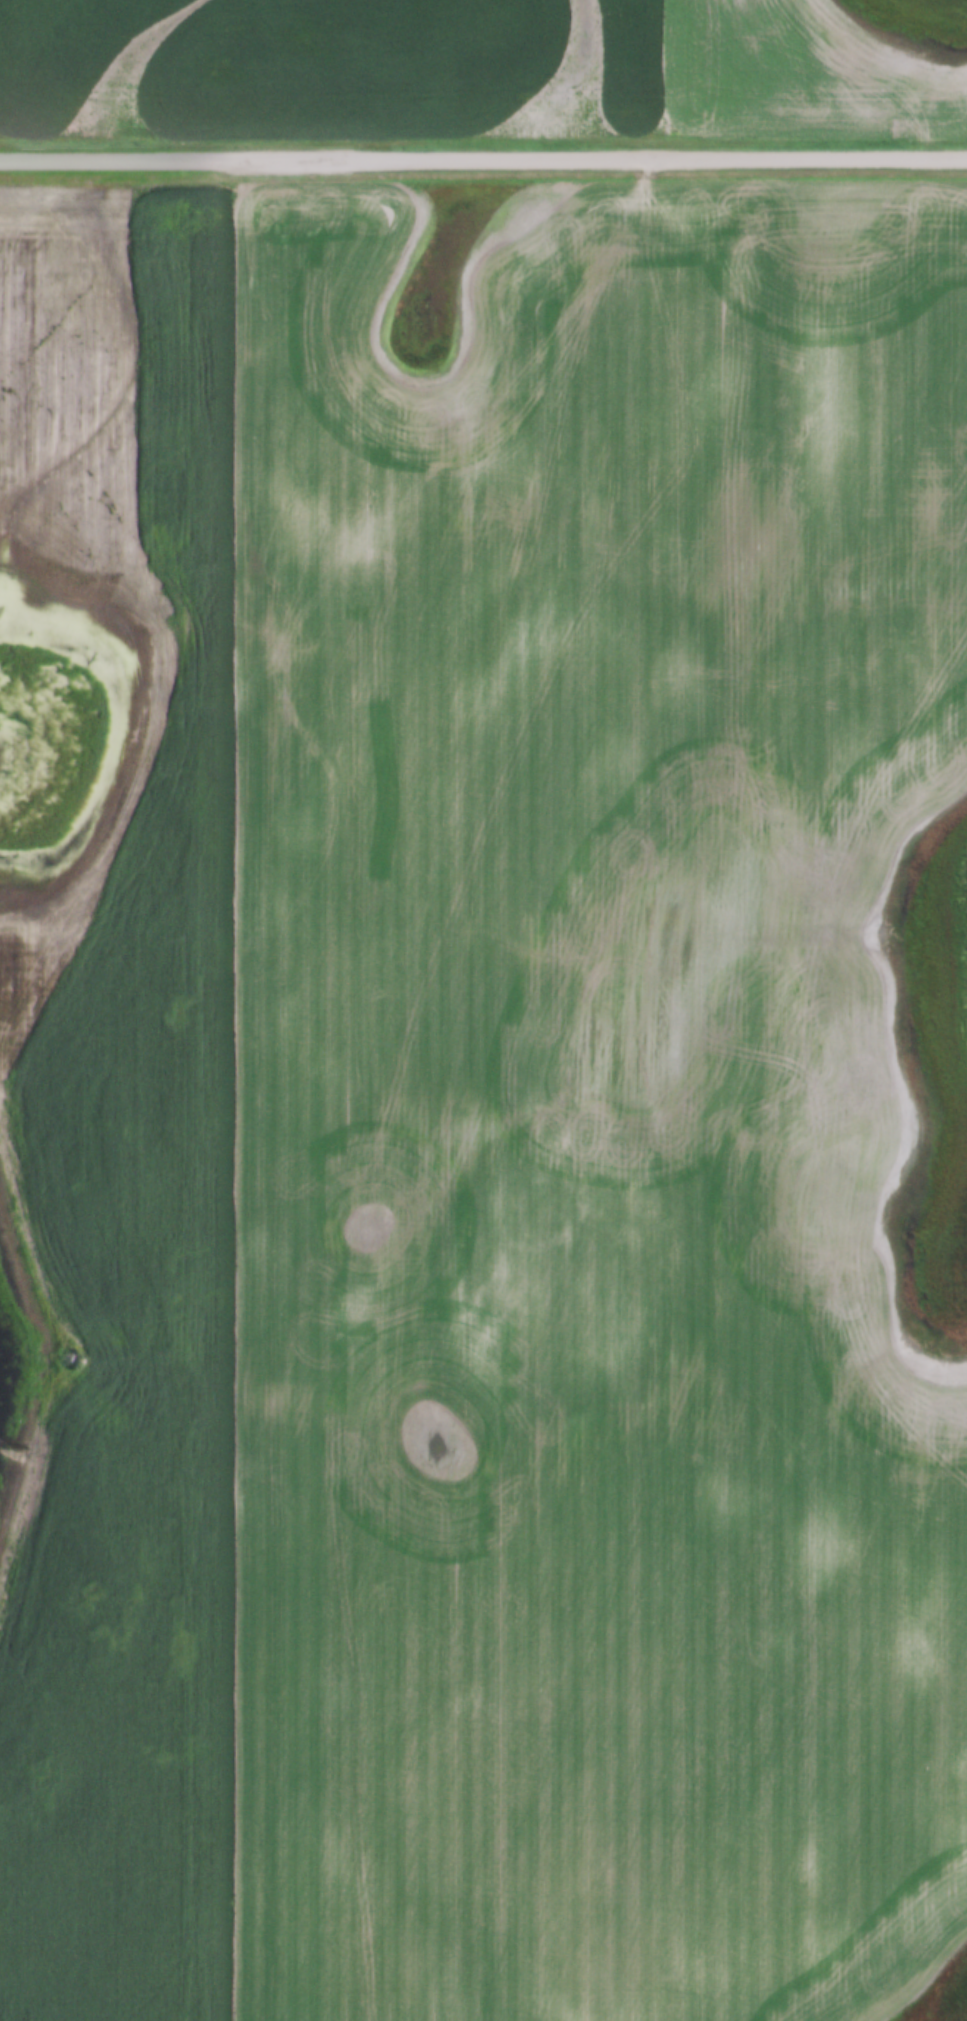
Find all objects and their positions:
road: (483, 156)

